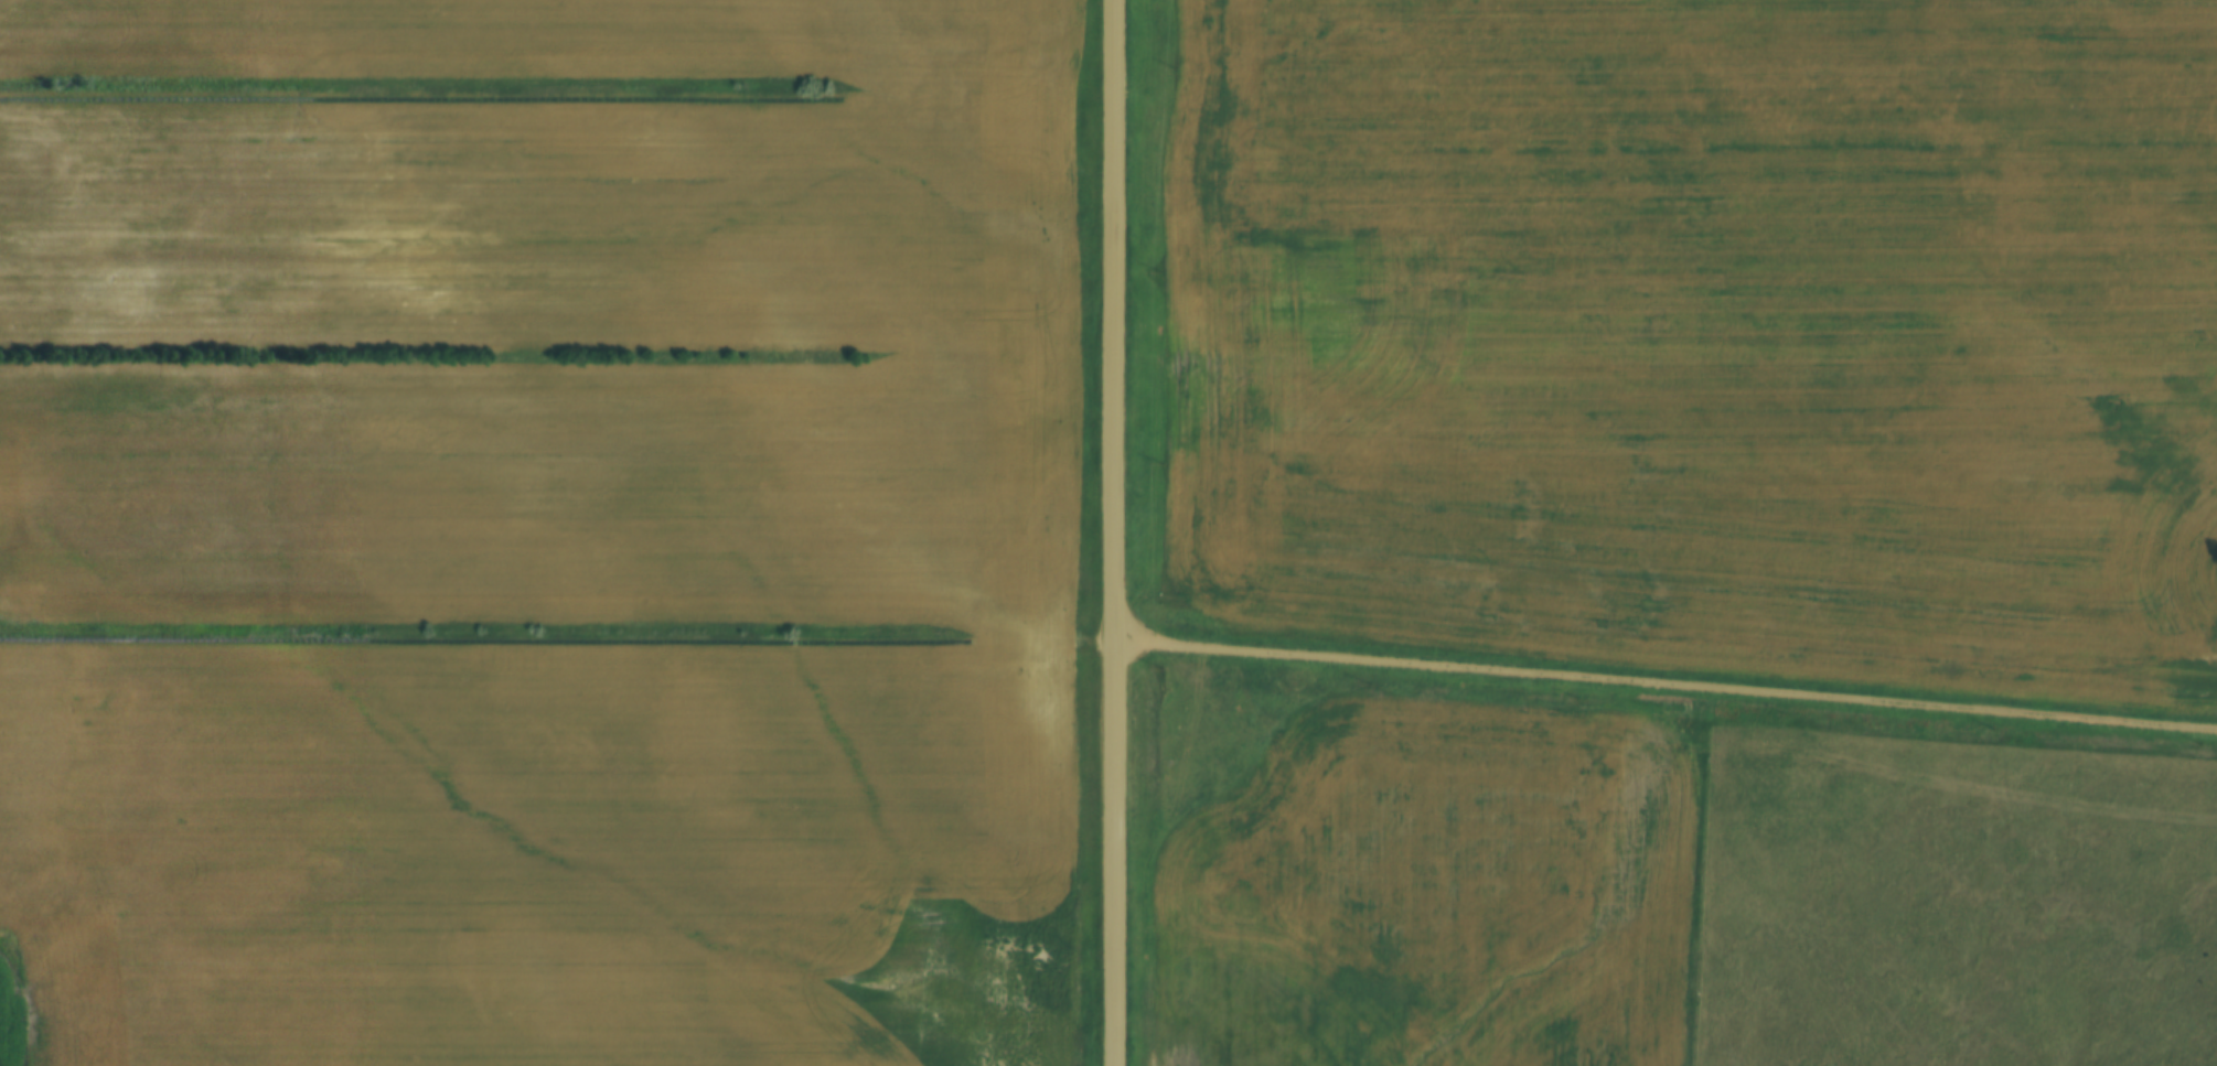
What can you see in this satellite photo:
road: (1115, 532)
road: (1666, 678)

